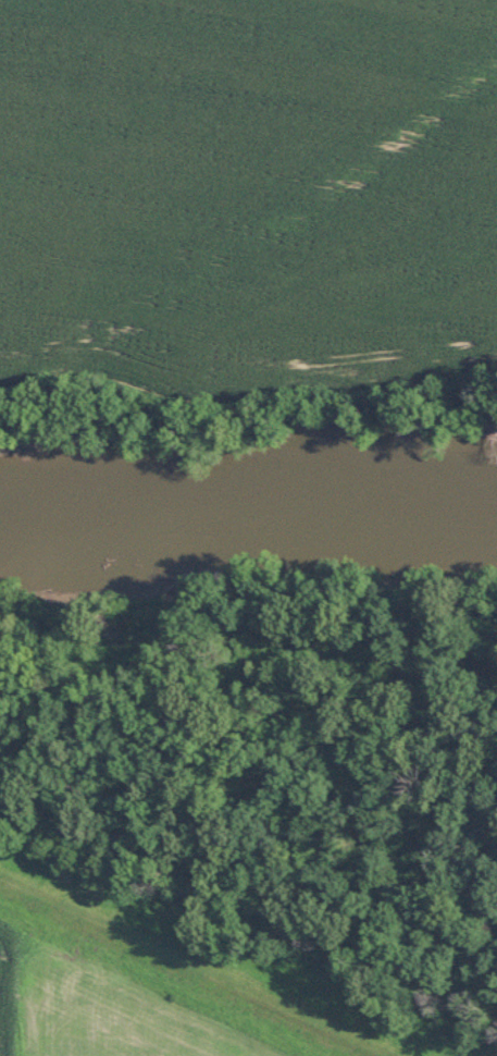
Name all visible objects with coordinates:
river: (248, 484)

